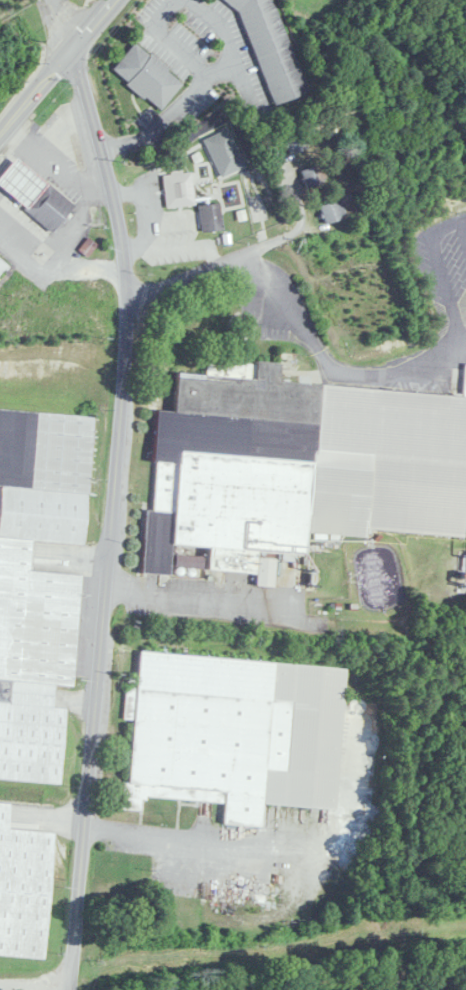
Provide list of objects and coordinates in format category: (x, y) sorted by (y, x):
road: (58, 25)
building: (270, 49)
road: (42, 57)
road: (57, 67)
building: (147, 76)
road: (196, 86)
road: (61, 126)
building: (296, 141)
road: (14, 161)
road: (53, 162)
building: (311, 177)
road: (291, 187)
building: (179, 188)
building: (34, 193)
building: (332, 211)
building: (210, 216)
road: (463, 218)
road: (444, 224)
road: (463, 227)
road: (59, 248)
road: (87, 265)
road: (214, 265)
building: (2, 267)
road: (441, 269)
road: (455, 329)
road: (329, 364)
building: (300, 464)
road: (113, 517)
building: (187, 561)
building: (38, 582)
road: (203, 597)
building: (236, 733)
road: (197, 837)
building: (23, 888)
road: (34, 973)

